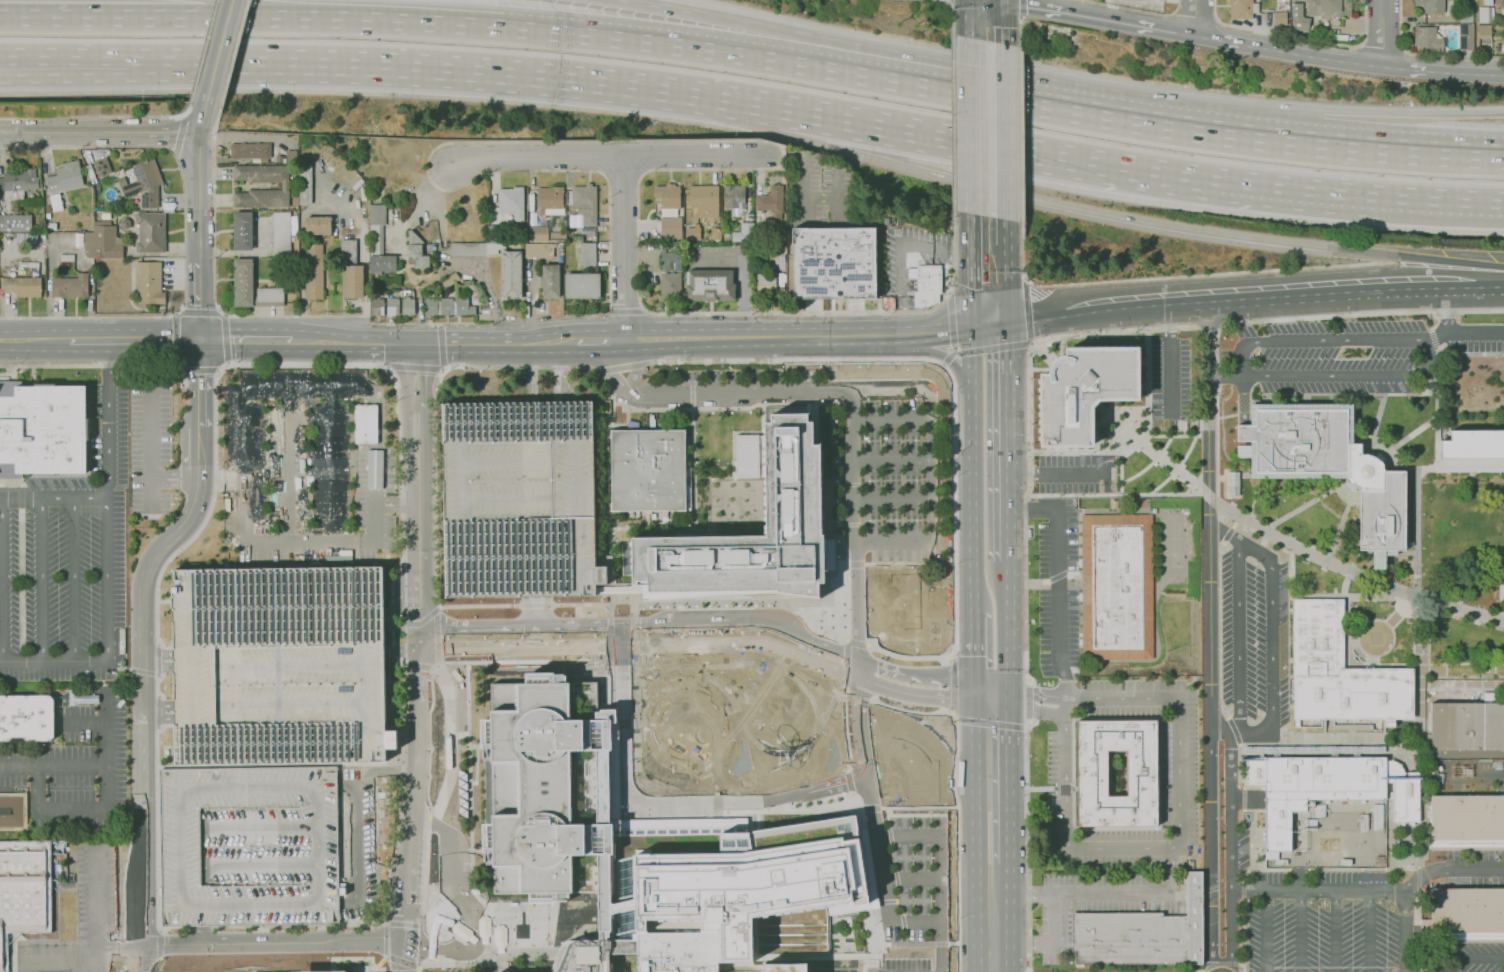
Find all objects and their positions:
road: (944, 0)
building: (1488, 2)
building: (1431, 5)
building: (1502, 6)
building: (1243, 8)
building: (1328, 8)
road: (226, 9)
road: (1134, 9)
road: (1020, 10)
road: (1195, 11)
road: (952, 14)
building: (1485, 14)
building: (1466, 16)
road: (1194, 17)
building: (1299, 17)
road: (105, 18)
building: (1280, 18)
road: (226, 19)
road: (371, 20)
road: (985, 20)
road: (743, 23)
road: (1019, 31)
building: (1485, 31)
road: (1382, 33)
building: (1466, 36)
road: (1300, 37)
building: (1340, 37)
building: (1428, 39)
road: (1381, 40)
road: (681, 45)
road: (1249, 45)
road: (203, 51)
road: (218, 51)
road: (232, 51)
road: (1428, 54)
road: (7, 56)
road: (7, 59)
road: (373, 60)
road: (908, 82)
road: (1384, 113)
road: (183, 115)
road: (98, 116)
road: (202, 117)
road: (1115, 117)
road: (952, 122)
road: (912, 126)
road: (986, 128)
road: (99, 133)
road: (1020, 134)
road: (179, 135)
road: (538, 142)
building: (249, 150)
road: (1388, 150)
road: (609, 155)
building: (291, 156)
building: (279, 159)
building: (101, 166)
road: (1156, 169)
building: (65, 177)
building: (19, 183)
building: (304, 183)
building: (144, 184)
road: (1291, 185)
building: (284, 186)
road: (804, 190)
parking lot: (816, 190)
building: (702, 195)
road: (836, 195)
road: (1434, 196)
road: (820, 197)
road: (199, 198)
building: (734, 198)
building: (668, 199)
building: (549, 200)
building: (55, 202)
building: (511, 202)
building: (771, 202)
building: (585, 203)
road: (331, 206)
building: (105, 215)
road: (1107, 215)
building: (532, 218)
building: (15, 223)
building: (124, 223)
building: (318, 225)
building: (51, 226)
road: (642, 228)
building: (671, 228)
building: (242, 231)
building: (150, 232)
road: (184, 233)
building: (281, 233)
building: (378, 233)
building: (495, 233)
building: (538, 233)
building: (744, 233)
road: (987, 233)
building: (26, 238)
building: (105, 241)
building: (88, 244)
building: (522, 245)
road: (624, 247)
building: (416, 249)
road: (903, 249)
building: (538, 250)
building: (587, 254)
building: (67, 257)
building: (669, 261)
building: (834, 262)
building: (91, 263)
road: (809, 263)
road: (845, 263)
building: (28, 264)
building: (351, 270)
building: (313, 271)
building: (242, 273)
road: (1181, 276)
building: (511, 277)
road: (1025, 278)
building: (450, 279)
building: (550, 280)
road: (1260, 281)
building: (149, 283)
building: (766, 284)
building: (926, 284)
building: (582, 285)
building: (23, 286)
building: (71, 286)
building: (671, 286)
building: (710, 286)
road: (989, 287)
road: (1340, 294)
road: (199, 301)
building: (888, 302)
building: (392, 306)
building: (407, 306)
building: (450, 306)
building: (377, 307)
road: (609, 309)
road: (624, 309)
road: (642, 309)
road: (1447, 309)
road: (1027, 310)
road: (835, 312)
road: (176, 313)
road: (222, 313)
road: (1082, 313)
road: (1364, 313)
road: (199, 314)
road: (241, 316)
road: (852, 316)
road: (811, 317)
road: (950, 319)
road: (439, 324)
traffic signals: (990, 325)
road: (1211, 326)
road: (947, 330)
road: (1465, 332)
road: (223, 337)
road: (764, 338)
road: (176, 339)
road: (153, 340)
traffic signals: (200, 340)
road: (246, 340)
road: (602, 340)
road: (34, 341)
road: (88, 341)
road: (315, 341)
flagpole: (1057, 341)
road: (1319, 341)
road: (548, 342)
road: (378, 344)
traffic signals: (419, 344)
road: (468, 344)
road: (1031, 344)
flagpole: (1058, 344)
road: (442, 346)
road: (994, 347)
flagpole: (1058, 347)
road: (953, 351)
road: (955, 352)
road: (969, 353)
road: (942, 355)
parking lot: (1358, 356)
road: (880, 360)
road: (946, 361)
road: (1170, 361)
road: (227, 362)
road: (141, 364)
road: (369, 364)
road: (49, 365)
road: (177, 365)
road: (387, 366)
road: (414, 366)
road: (624, 366)
road: (633, 367)
road: (442, 368)
road: (199, 370)
road: (216, 370)
road: (183, 371)
road: (555, 371)
road: (529, 372)
road: (612, 372)
road: (1349, 377)
road: (1225, 379)
road: (417, 383)
road: (309, 390)
road: (744, 392)
building: (1083, 392)
road: (107, 419)
building: (651, 421)
road: (891, 421)
building: (364, 423)
road: (931, 426)
building: (42, 429)
road: (1029, 430)
building: (1471, 440)
road: (1002, 441)
road: (1373, 441)
road: (435, 446)
road: (289, 447)
building: (747, 457)
road: (891, 461)
building: (1328, 464)
road: (1427, 466)
road: (1447, 466)
road: (851, 467)
building: (373, 468)
parking lot: (891, 468)
parking lot: (304, 470)
building: (649, 471)
road: (1053, 473)
road: (240, 479)
building: (1230, 483)
road: (1335, 489)
building: (793, 490)
road: (53, 497)
building: (519, 499)
parking garage: (519, 499)
road: (891, 499)
road: (418, 500)
road: (969, 500)
road: (1210, 512)
road: (181, 529)
parking lot: (85, 534)
road: (1224, 535)
road: (302, 540)
road: (950, 542)
road: (893, 543)
road: (1289, 545)
road: (403, 551)
park: (1173, 551)
road: (909, 563)
road: (856, 564)
road: (1059, 576)
road: (39, 579)
road: (74, 579)
road: (107, 579)
road: (2, 580)
building: (1118, 586)
road: (707, 600)
road: (419, 601)
road: (858, 601)
road: (846, 602)
road: (536, 603)
road: (609, 609)
road: (632, 609)
road: (534, 611)
building: (937, 611)
road: (419, 621)
road: (1009, 624)
road: (477, 626)
road: (579, 626)
road: (743, 626)
road: (393, 629)
road: (623, 636)
road: (535, 637)
road: (952, 637)
road: (420, 638)
road: (609, 638)
parking lot: (1253, 638)
road: (1240, 640)
road: (743, 643)
road: (857, 643)
road: (1270, 644)
building: (905, 646)
road: (970, 646)
road: (579, 648)
road: (477, 649)
road: (634, 651)
road: (952, 656)
road: (54, 661)
building: (122, 662)
road: (447, 662)
road: (404, 664)
road: (741, 664)
road: (417, 665)
parking lot: (275, 667)
road: (431, 668)
road: (857, 668)
building: (1341, 671)
road: (913, 674)
road: (846, 677)
traffic signals: (971, 680)
road: (695, 681)
road: (989, 684)
road: (953, 685)
road: (403, 688)
traffic signals: (1008, 688)
road: (971, 690)
road: (1036, 693)
road: (913, 694)
road: (1007, 697)
building: (80, 698)
road: (1122, 699)
traffic signals: (971, 700)
road: (1029, 700)
road: (989, 703)
road: (714, 707)
traffic signals: (1007, 707)
road: (1036, 710)
road: (952, 714)
building: (26, 718)
building: (1305, 722)
road: (643, 723)
road: (989, 723)
road: (1026, 727)
road: (845, 729)
building: (1466, 729)
road: (108, 730)
road: (934, 732)
road: (1237, 737)
road: (862, 743)
road: (768, 749)
road: (55, 766)
building: (1092, 773)
road: (824, 788)
road: (850, 788)
building: (1330, 790)
building: (549, 791)
road: (414, 796)
road: (955, 800)
road: (971, 801)
road: (625, 802)
road: (1005, 802)
road: (718, 803)
road: (71, 806)
road: (867, 808)
road: (919, 808)
building: (13, 810)
parking lot: (1179, 811)
road: (723, 812)
road: (887, 818)
building: (1467, 822)
road: (141, 826)
road: (1231, 842)
road: (1027, 843)
building: (56, 846)
building: (249, 846)
parking garage: (249, 846)
road: (1213, 846)
road: (1121, 847)
road: (937, 849)
road: (470, 850)
road: (1450, 871)
building: (747, 880)
road: (897, 886)
building: (24, 890)
road: (1317, 890)
parking lot: (914, 893)
road: (1101, 894)
road: (96, 899)
road: (889, 901)
road: (461, 903)
road: (624, 904)
road: (888, 910)
building: (1465, 916)
parking lot: (82, 920)
road: (384, 921)
road: (423, 922)
parking lot: (1322, 922)
road: (370, 924)
road: (141, 931)
road: (1267, 931)
road: (1300, 931)
road: (1334, 931)
road: (1369, 931)
road: (1403, 932)
road: (993, 934)
building: (1142, 934)
road: (271, 942)
road: (917, 944)
road: (1048, 945)
road: (119, 946)
road: (623, 947)
road: (115, 951)
building: (678, 952)
building: (593, 954)
road: (435, 955)
road: (87, 957)
road: (135, 957)
road: (403, 957)
road: (357, 958)
road: (1465, 959)
road: (49, 961)
parking lot: (1477, 961)
road: (379, 962)
building: (785, 967)
road: (1029, 970)
building: (324, 971)

